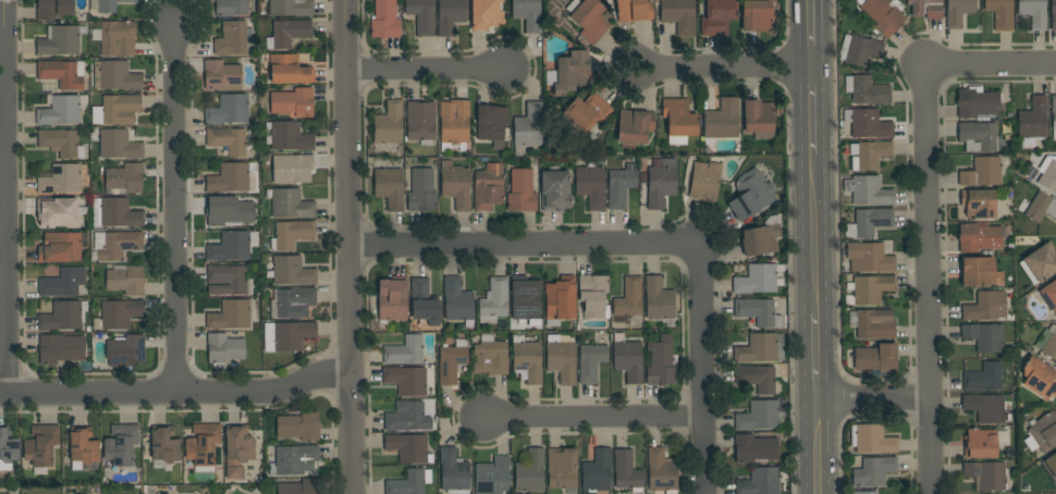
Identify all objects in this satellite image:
building: (109, 5)
building: (232, 7)
building: (291, 8)
building: (925, 8)
building: (53, 9)
building: (633, 10)
building: (958, 12)
building: (483, 13)
building: (1033, 13)
building: (528, 14)
building: (1000, 14)
building: (450, 15)
building: (678, 15)
building: (756, 15)
building: (883, 15)
building: (1053, 15)
building: (421, 16)
building: (717, 16)
building: (588, 18)
building: (384, 20)
building: (287, 33)
road: (807, 34)
building: (118, 38)
building: (231, 39)
building: (61, 40)
building: (859, 50)
road: (991, 65)
road: (721, 69)
building: (288, 70)
road: (427, 71)
building: (570, 72)
building: (62, 74)
building: (222, 75)
building: (118, 76)
building: (867, 90)
building: (292, 102)
building: (977, 102)
building: (116, 110)
building: (230, 110)
road: (810, 110)
building: (60, 111)
building: (586, 112)
building: (1053, 115)
building: (758, 119)
building: (678, 121)
building: (721, 121)
building: (420, 122)
building: (454, 122)
building: (491, 123)
building: (867, 123)
building: (1032, 123)
building: (389, 124)
building: (634, 126)
building: (528, 127)
building: (978, 136)
building: (287, 137)
building: (228, 140)
building: (61, 143)
building: (116, 145)
building: (870, 156)
building: (294, 168)
building: (982, 172)
building: (1044, 173)
building: (231, 177)
building: (61, 178)
building: (124, 180)
building: (703, 180)
building: (661, 182)
building: (455, 185)
building: (488, 186)
building: (590, 186)
building: (621, 186)
building: (389, 188)
building: (868, 190)
building: (421, 192)
building: (521, 192)
building: (555, 192)
building: (751, 195)
road: (3, 197)
building: (290, 203)
building: (978, 203)
road: (174, 207)
building: (1041, 208)
building: (57, 212)
building: (228, 212)
building: (115, 213)
building: (869, 222)
road: (813, 233)
building: (291, 234)
building: (979, 237)
building: (761, 238)
building: (119, 245)
building: (232, 246)
road: (347, 246)
road: (524, 246)
building: (60, 247)
building: (869, 258)
building: (1039, 263)
building: (292, 271)
building: (979, 272)
building: (124, 279)
building: (759, 279)
road: (928, 280)
building: (229, 281)
building: (63, 282)
building: (870, 289)
building: (1049, 295)
building: (593, 296)
building: (628, 298)
building: (392, 299)
building: (658, 299)
building: (493, 300)
building: (526, 300)
building: (560, 300)
building: (457, 301)
building: (294, 302)
building: (423, 302)
building: (984, 307)
building: (758, 311)
building: (118, 314)
building: (230, 316)
building: (63, 317)
building: (874, 324)
building: (287, 335)
building: (984, 336)
building: (1051, 343)
building: (60, 348)
building: (761, 348)
building: (126, 349)
building: (223, 349)
building: (405, 350)
road: (916, 353)
building: (490, 357)
road: (816, 357)
building: (561, 358)
building: (627, 358)
building: (875, 358)
building: (527, 360)
building: (452, 361)
building: (591, 362)
building: (661, 362)
road: (701, 368)
building: (757, 378)
building: (1039, 378)
building: (983, 379)
building: (406, 380)
road: (175, 393)
road: (874, 398)
building: (984, 407)
road: (880, 412)
building: (760, 416)
building: (406, 417)
road: (591, 419)
building: (299, 427)
building: (1044, 432)
building: (872, 440)
building: (982, 443)
building: (121, 444)
building: (202, 444)
building: (40, 445)
building: (83, 445)
building: (164, 445)
road: (819, 446)
building: (8, 448)
building: (408, 448)
building: (754, 448)
building: (237, 449)
building: (294, 460)
building: (1051, 467)
building: (562, 468)
building: (530, 471)
building: (627, 471)
building: (660, 471)
building: (873, 471)
building: (453, 472)
building: (597, 472)
building: (986, 476)
building: (493, 477)
building: (409, 482)
building: (760, 482)
building: (299, 487)
building: (863, 493)

